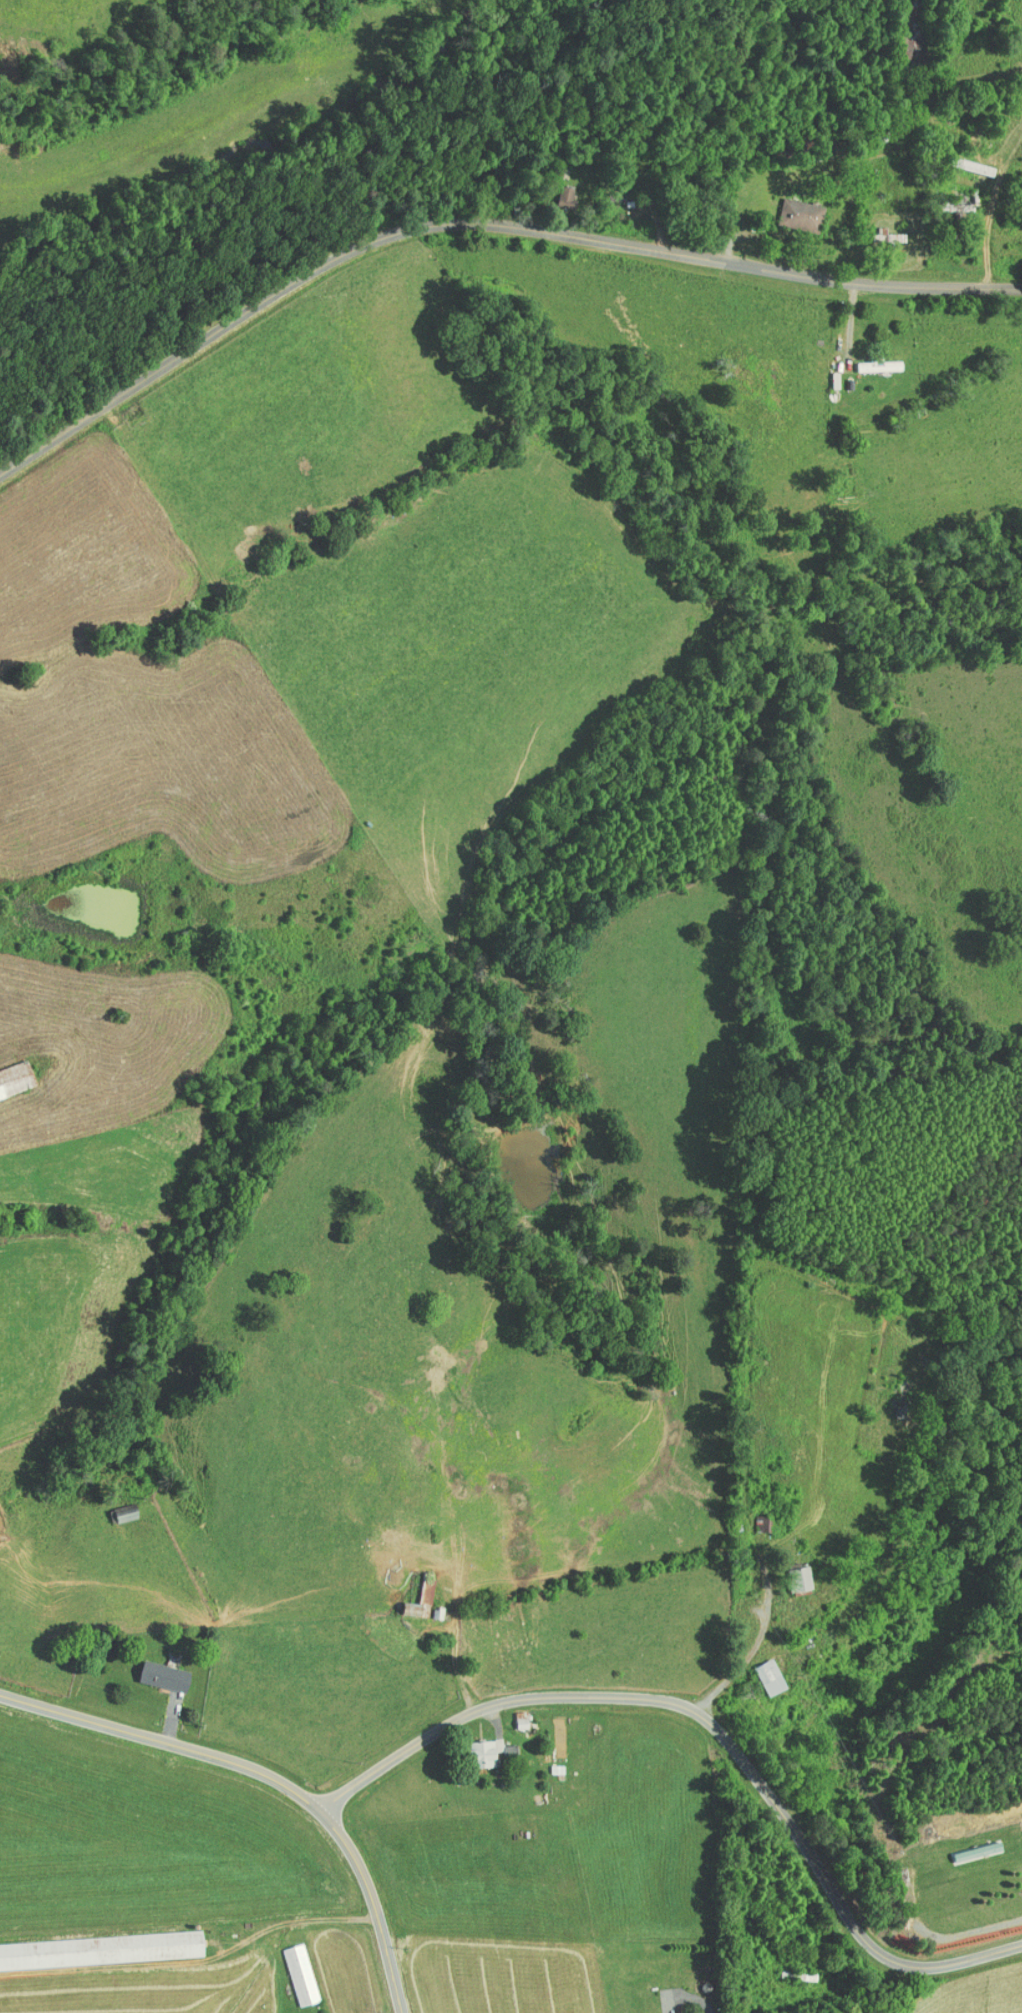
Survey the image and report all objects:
building: (556, 190)
building: (790, 213)
road: (478, 227)
building: (876, 229)
building: (868, 360)
building: (10, 1071)
building: (115, 1506)
building: (752, 1516)
building: (790, 1572)
building: (410, 1594)
road: (765, 1623)
building: (154, 1670)
building: (759, 1670)
building: (511, 1713)
road: (714, 1725)
building: (477, 1746)
road: (268, 1777)
building: (973, 1843)
road: (290, 1920)
building: (96, 1943)
building: (291, 1968)

